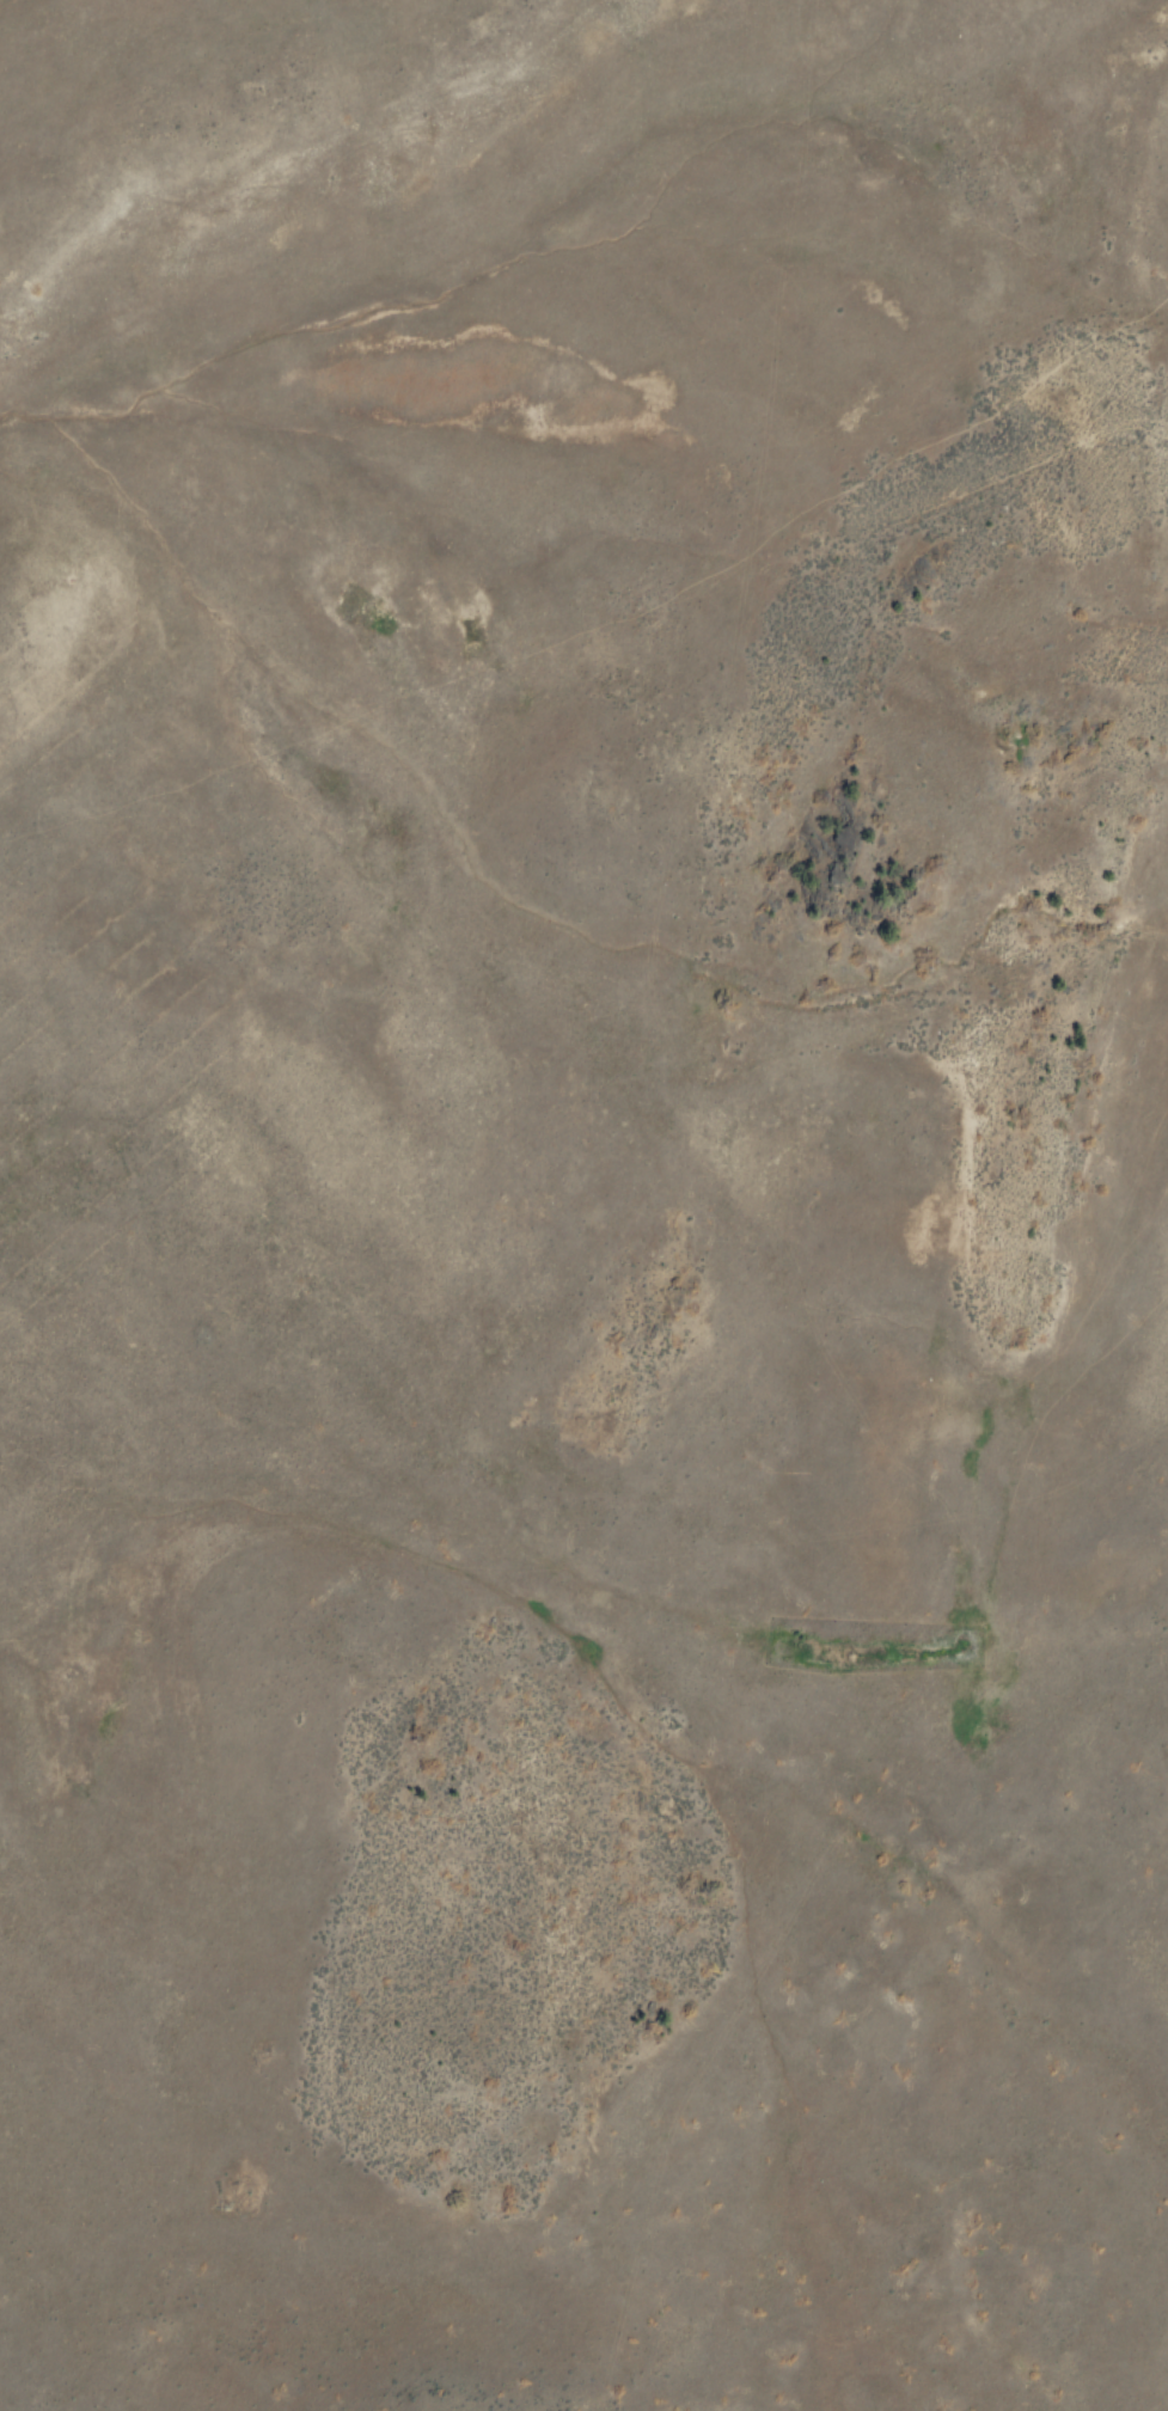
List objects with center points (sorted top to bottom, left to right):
road: (13, 4)

